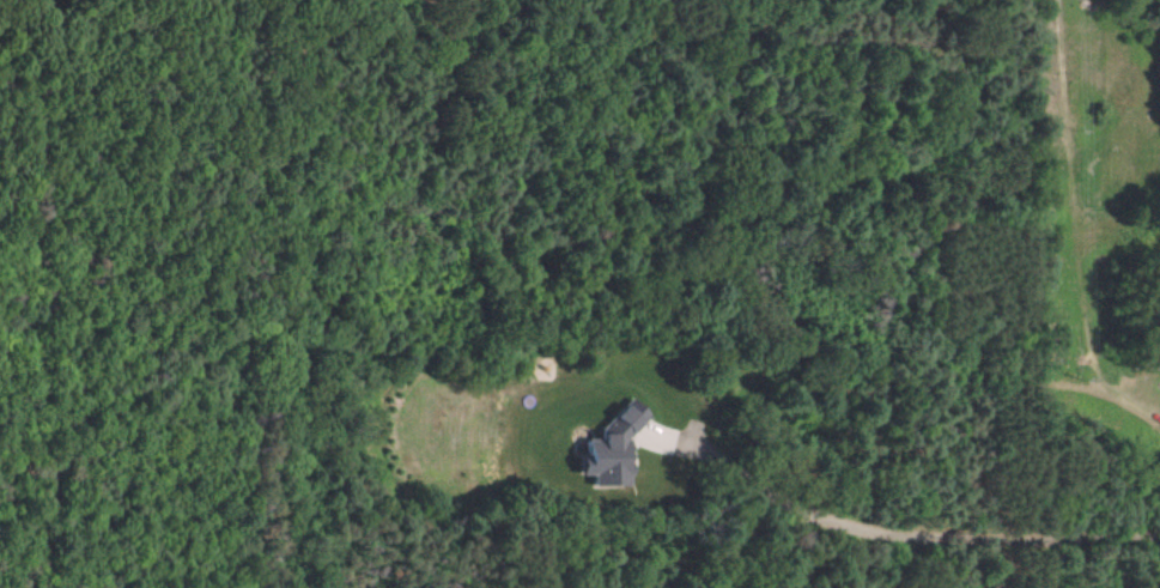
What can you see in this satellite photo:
building: (617, 448)
road: (911, 533)

